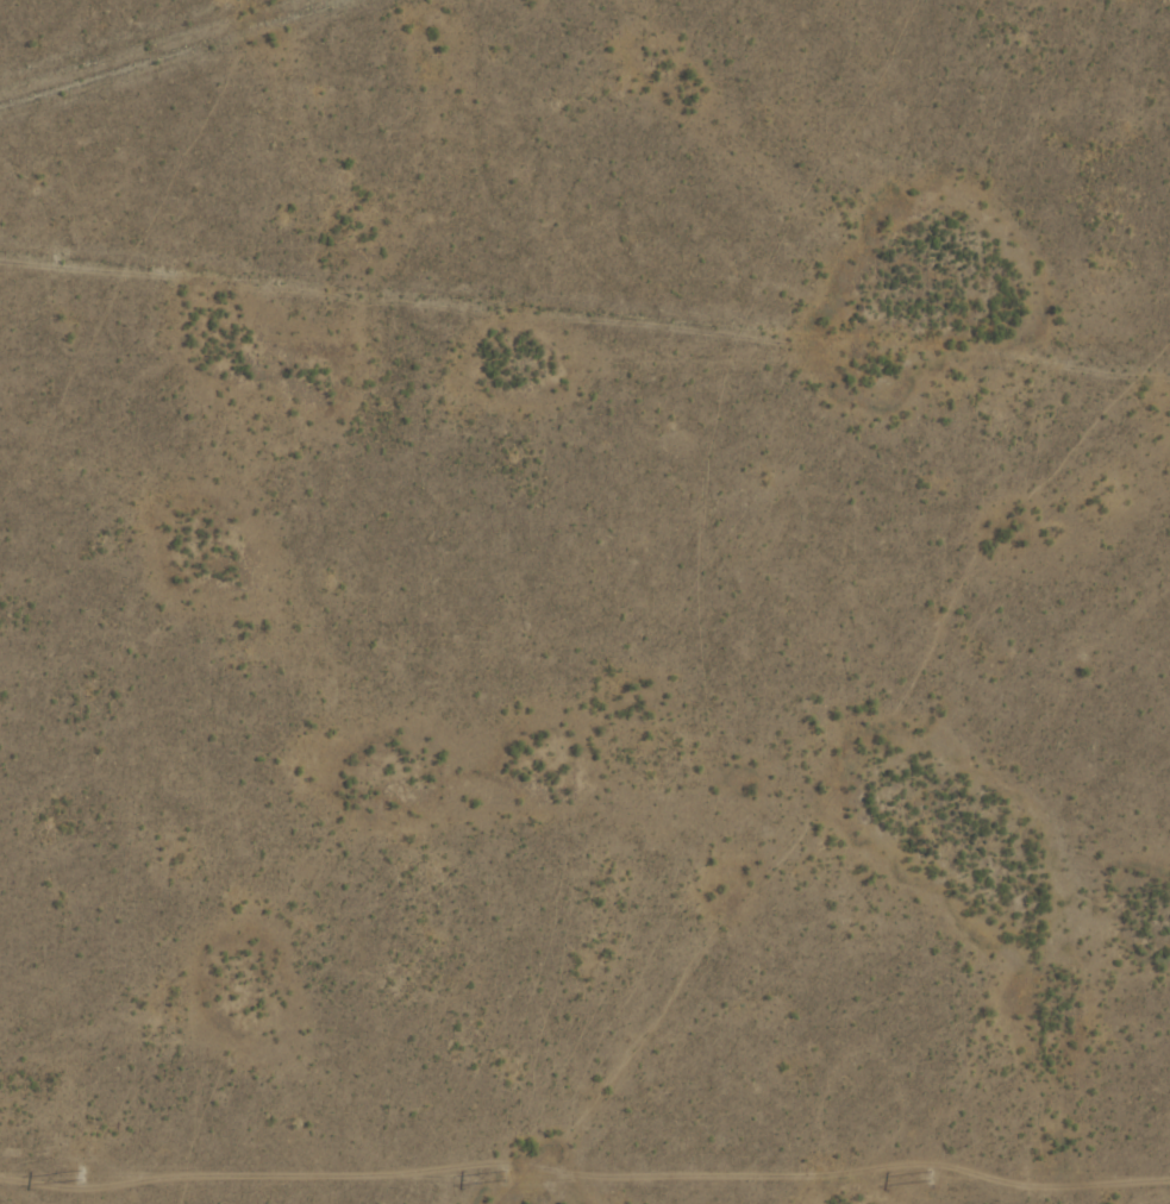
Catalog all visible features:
power tower: (79, 1173)
power tower: (503, 1174)
power tower: (928, 1175)

